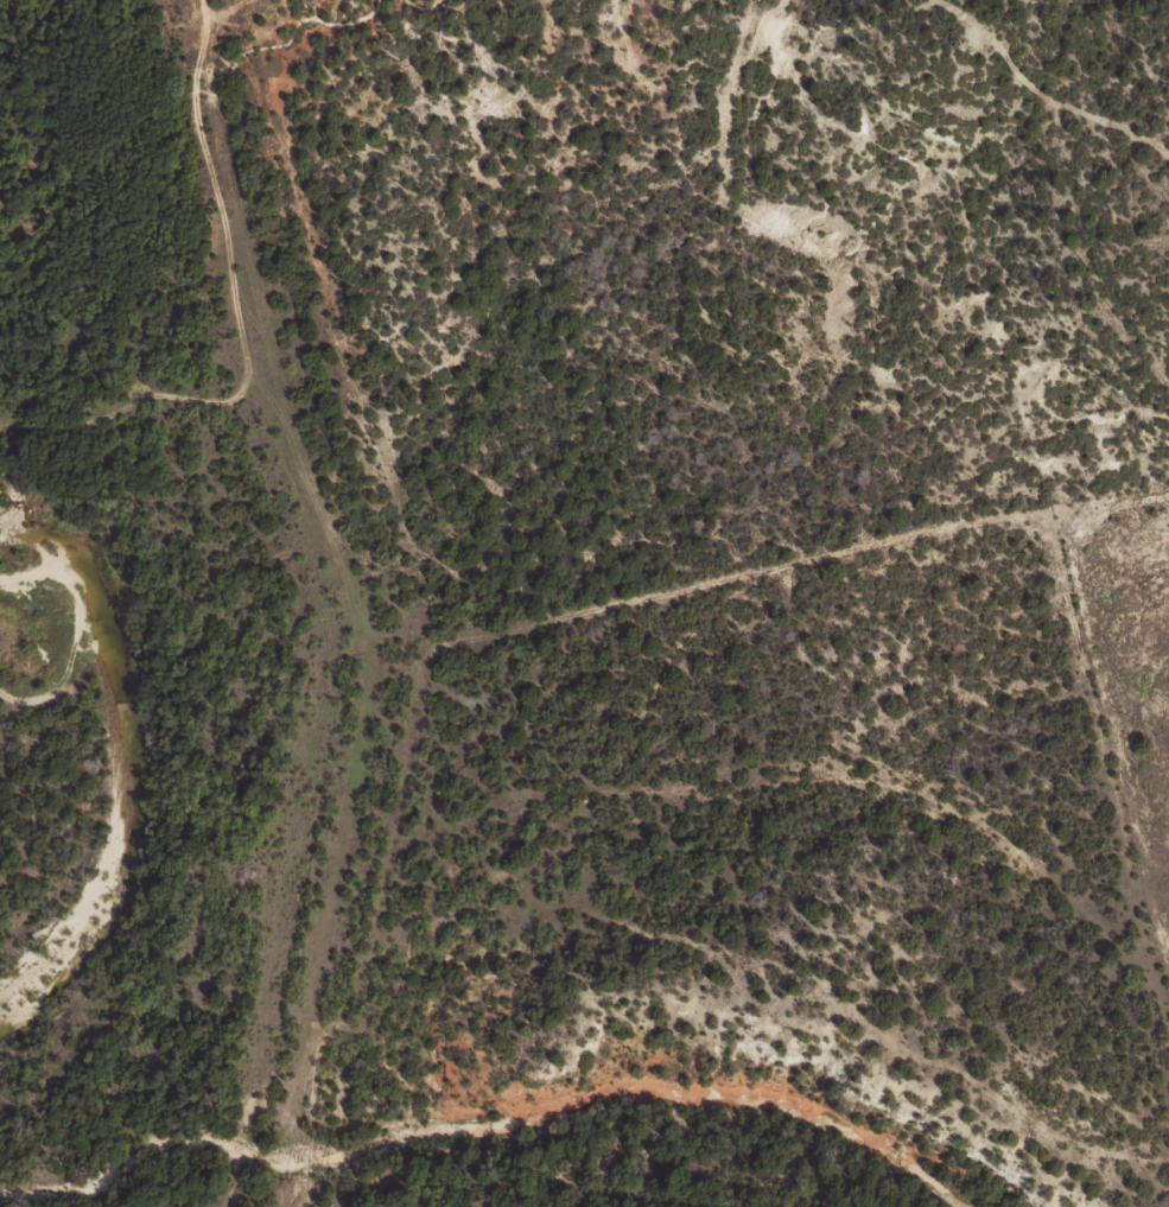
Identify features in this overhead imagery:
road: (649, 777)

